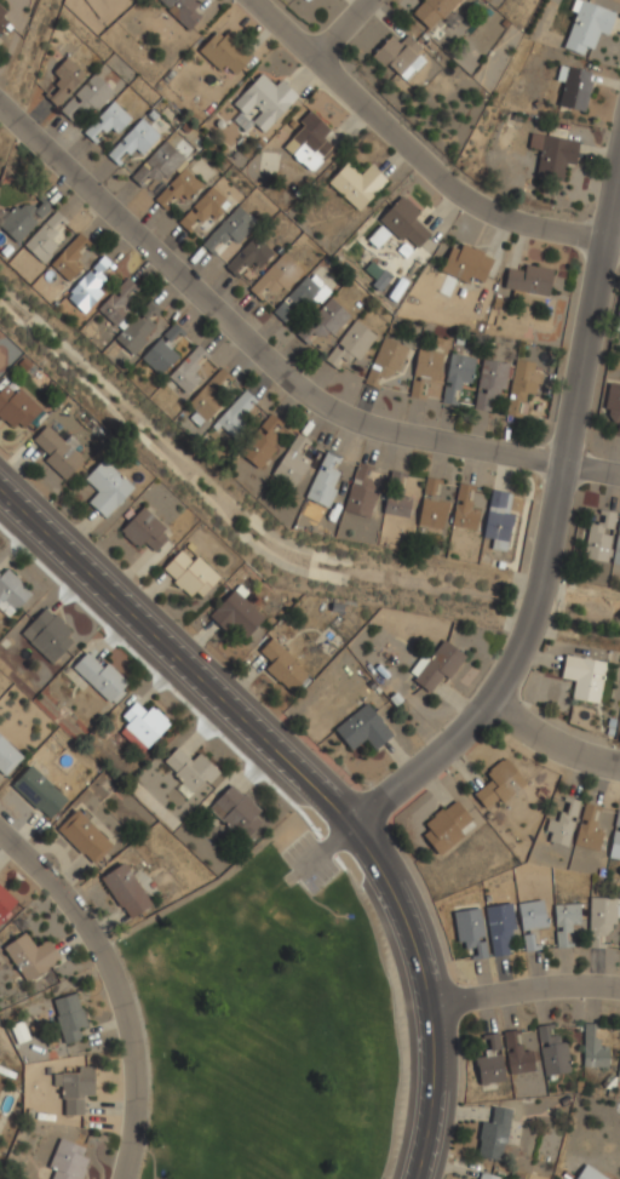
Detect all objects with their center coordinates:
building: (308, 1)
building: (182, 10)
building: (431, 11)
building: (4, 18)
building: (585, 25)
road: (339, 28)
building: (223, 51)
building: (398, 56)
building: (65, 78)
building: (573, 87)
building: (87, 98)
building: (262, 103)
building: (108, 120)
building: (133, 141)
building: (308, 142)
building: (552, 154)
road: (417, 155)
building: (156, 165)
building: (357, 183)
building: (178, 188)
building: (203, 212)
building: (23, 218)
building: (403, 222)
building: (228, 229)
building: (45, 237)
building: (249, 256)
building: (69, 258)
building: (466, 263)
building: (276, 276)
building: (527, 279)
building: (90, 286)
building: (299, 299)
building: (117, 302)
building: (327, 319)
building: (618, 321)
building: (138, 328)
building: (171, 332)
road: (249, 342)
building: (351, 344)
building: (159, 356)
building: (387, 359)
building: (425, 368)
building: (186, 371)
building: (457, 374)
building: (489, 383)
building: (522, 384)
building: (206, 400)
building: (613, 405)
building: (16, 407)
building: (236, 413)
building: (262, 442)
building: (291, 462)
road: (591, 470)
building: (325, 480)
building: (107, 488)
building: (360, 492)
building: (397, 496)
building: (464, 508)
building: (431, 509)
building: (498, 520)
road: (551, 527)
building: (144, 531)
building: (598, 537)
building: (618, 548)
building: (190, 573)
building: (11, 593)
building: (236, 613)
building: (47, 635)
building: (282, 665)
building: (436, 665)
building: (582, 676)
building: (101, 677)
building: (144, 723)
road: (248, 726)
building: (363, 728)
road: (552, 740)
building: (7, 757)
building: (190, 769)
building: (500, 783)
building: (39, 792)
building: (237, 813)
building: (562, 823)
building: (446, 828)
building: (587, 829)
building: (84, 837)
building: (615, 839)
building: (125, 891)
building: (6, 903)
building: (532, 914)
building: (602, 918)
building: (564, 921)
building: (500, 926)
building: (470, 931)
building: (528, 942)
building: (619, 950)
building: (30, 956)
road: (115, 988)
road: (522, 990)
building: (69, 1017)
park: (271, 1024)
park: (271, 1024)
building: (593, 1047)
building: (552, 1052)
building: (517, 1053)
building: (490, 1063)
building: (619, 1072)
building: (0, 1084)
building: (75, 1089)
road: (430, 1093)
building: (494, 1134)
building: (68, 1161)
building: (587, 1174)
building: (487, 1177)

